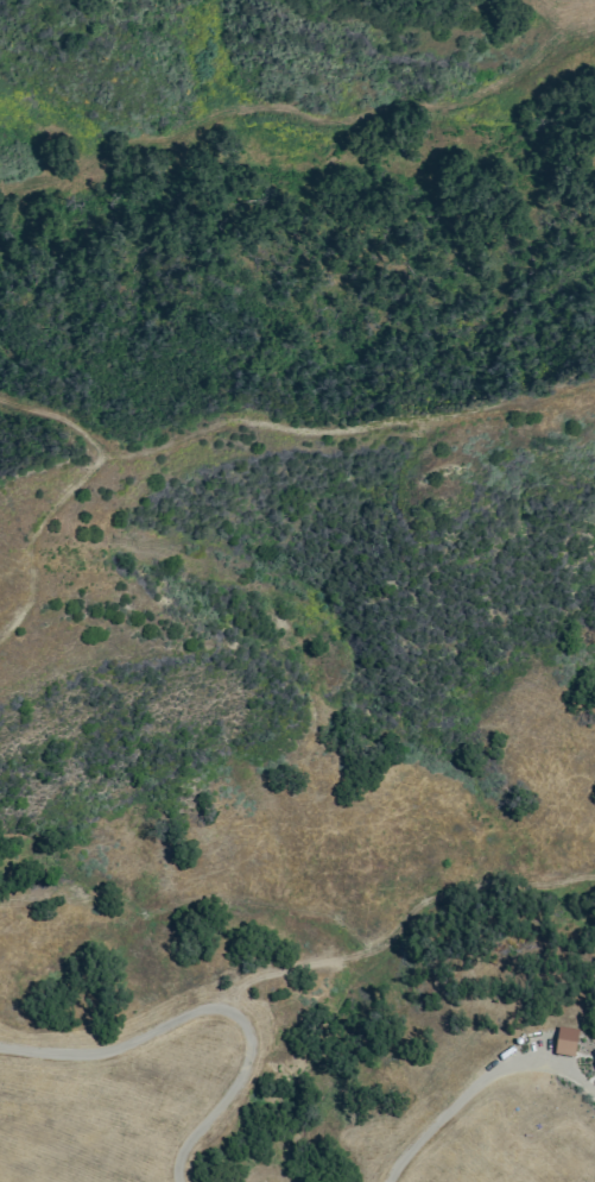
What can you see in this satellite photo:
road: (210, 1008)
building: (564, 1040)
building: (594, 1052)
building: (594, 1062)
road: (455, 1104)

